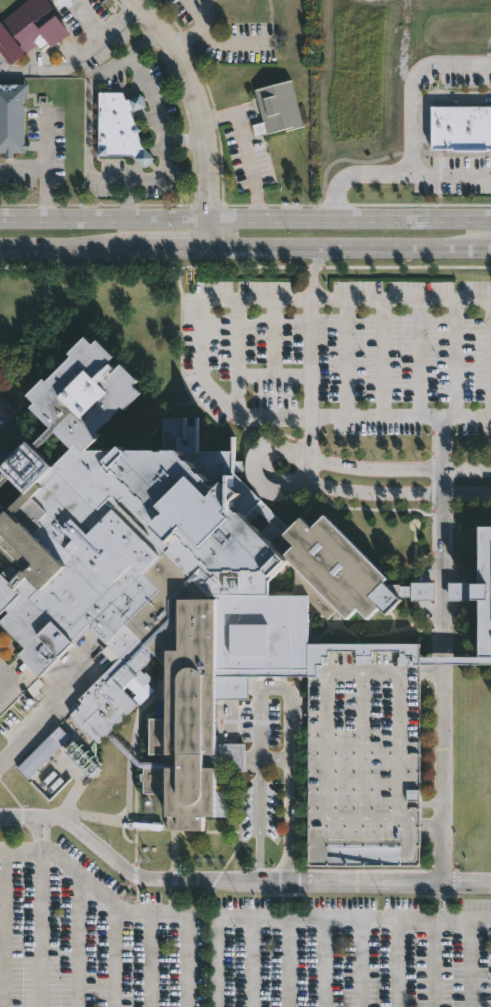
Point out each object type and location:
road: (88, 18)
road: (196, 27)
building: (29, 30)
road: (77, 57)
road: (411, 85)
road: (447, 95)
road: (151, 97)
building: (277, 108)
road: (203, 113)
building: (13, 119)
building: (121, 127)
building: (461, 128)
road: (46, 143)
road: (246, 151)
road: (45, 173)
road: (395, 176)
road: (143, 179)
road: (245, 219)
road: (69, 247)
road: (175, 248)
road: (351, 248)
road: (313, 272)
road: (401, 298)
road: (237, 335)
road: (271, 336)
road: (310, 356)
parking lot: (342, 356)
road: (348, 357)
road: (384, 358)
road: (421, 359)
road: (458, 359)
road: (256, 375)
parking lot: (7, 413)
road: (244, 414)
road: (309, 439)
road: (376, 463)
road: (467, 465)
road: (309, 472)
road: (467, 493)
road: (376, 495)
building: (210, 615)
road: (443, 667)
road: (432, 673)
road: (3, 686)
road: (301, 708)
road: (293, 710)
road: (262, 724)
road: (42, 725)
parking lot: (366, 755)
road: (278, 762)
parking lot: (261, 773)
road: (433, 805)
road: (262, 822)
road: (433, 829)
road: (43, 834)
road: (136, 876)
road: (391, 883)
road: (233, 919)
road: (5, 929)
road: (40, 929)
road: (76, 941)
parking lot: (225, 944)
road: (291, 945)
road: (113, 959)
road: (150, 959)
road: (187, 960)
road: (218, 963)
road: (252, 963)
road: (326, 963)
road: (361, 963)
road: (398, 963)
road: (433, 963)
road: (469, 963)

